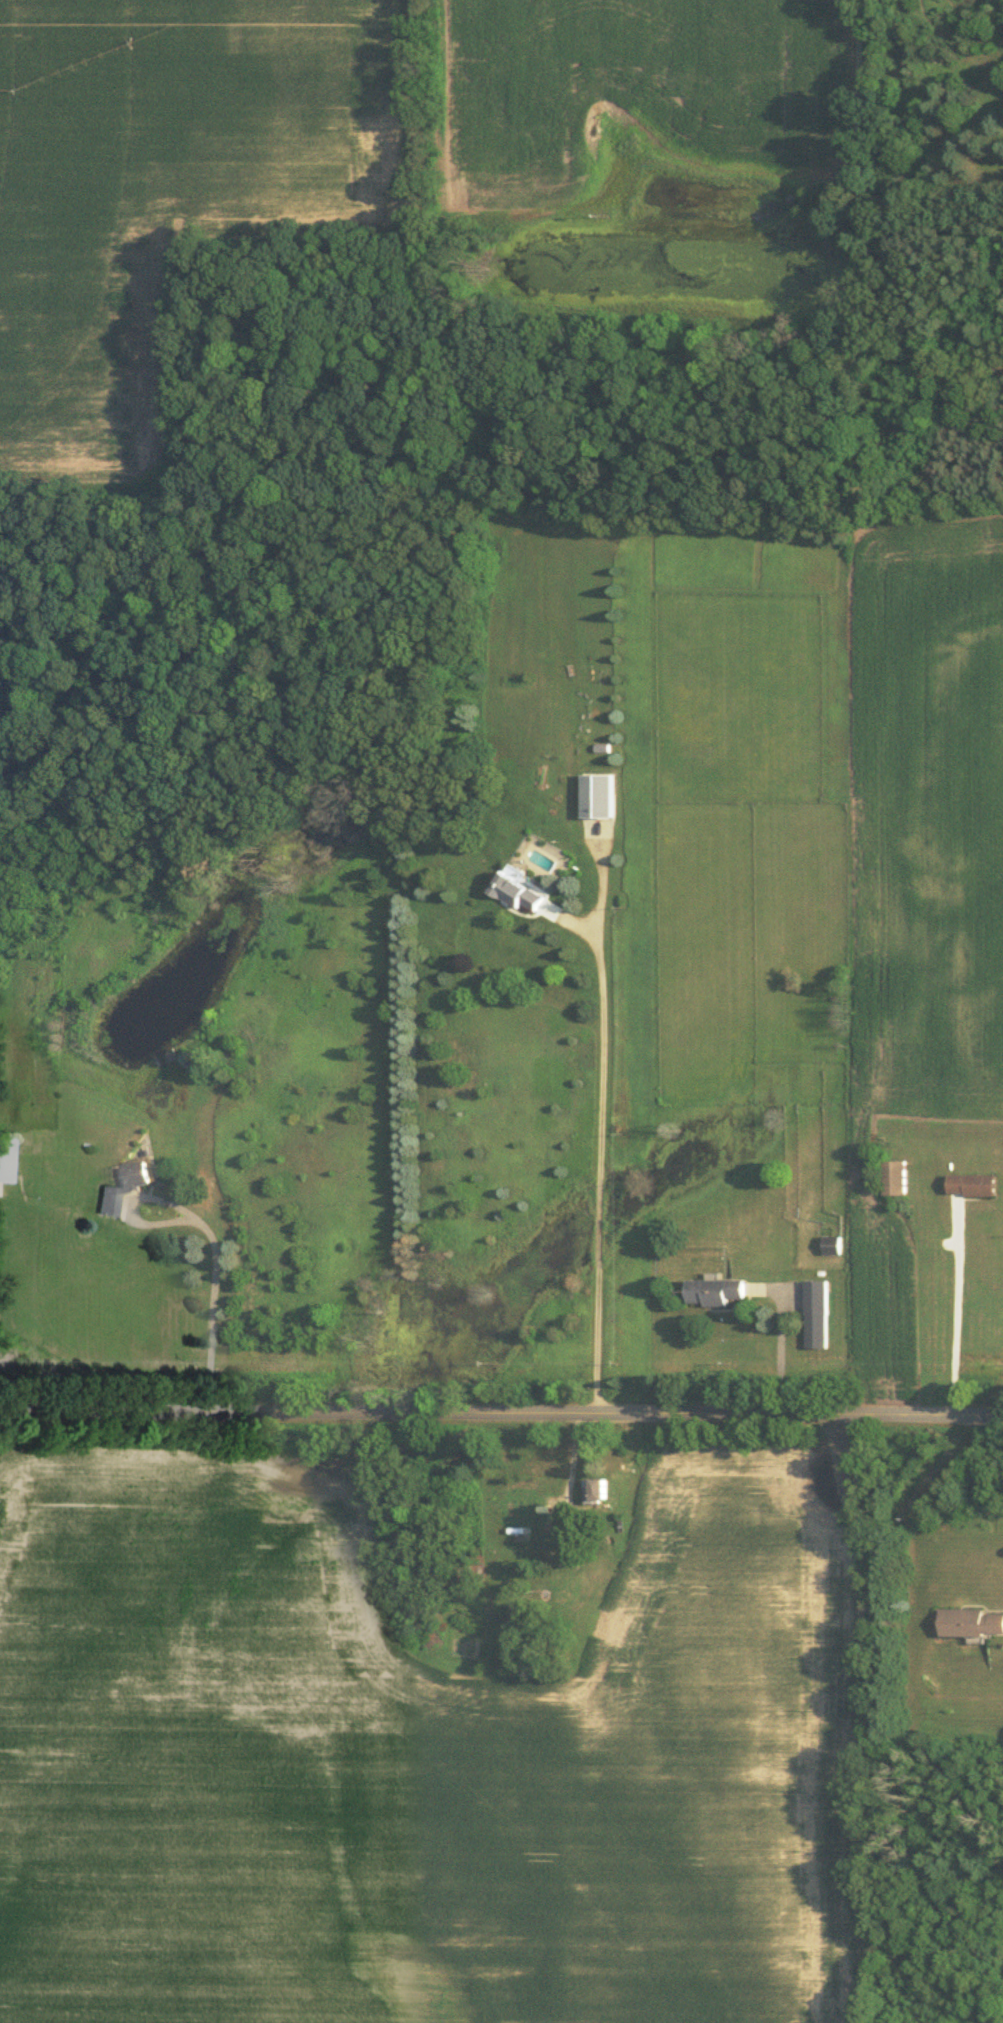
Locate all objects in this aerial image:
crop: (678, 103)
crop: (164, 198)
building: (599, 794)
building: (518, 890)
road: (597, 1138)
building: (4, 1157)
building: (894, 1176)
building: (122, 1183)
building: (972, 1183)
road: (209, 1238)
building: (832, 1243)
building: (716, 1289)
road: (958, 1306)
building: (817, 1312)
road: (779, 1354)
road: (501, 1410)
building: (598, 1488)
building: (521, 1509)
building: (971, 1621)
crop: (415, 1751)

